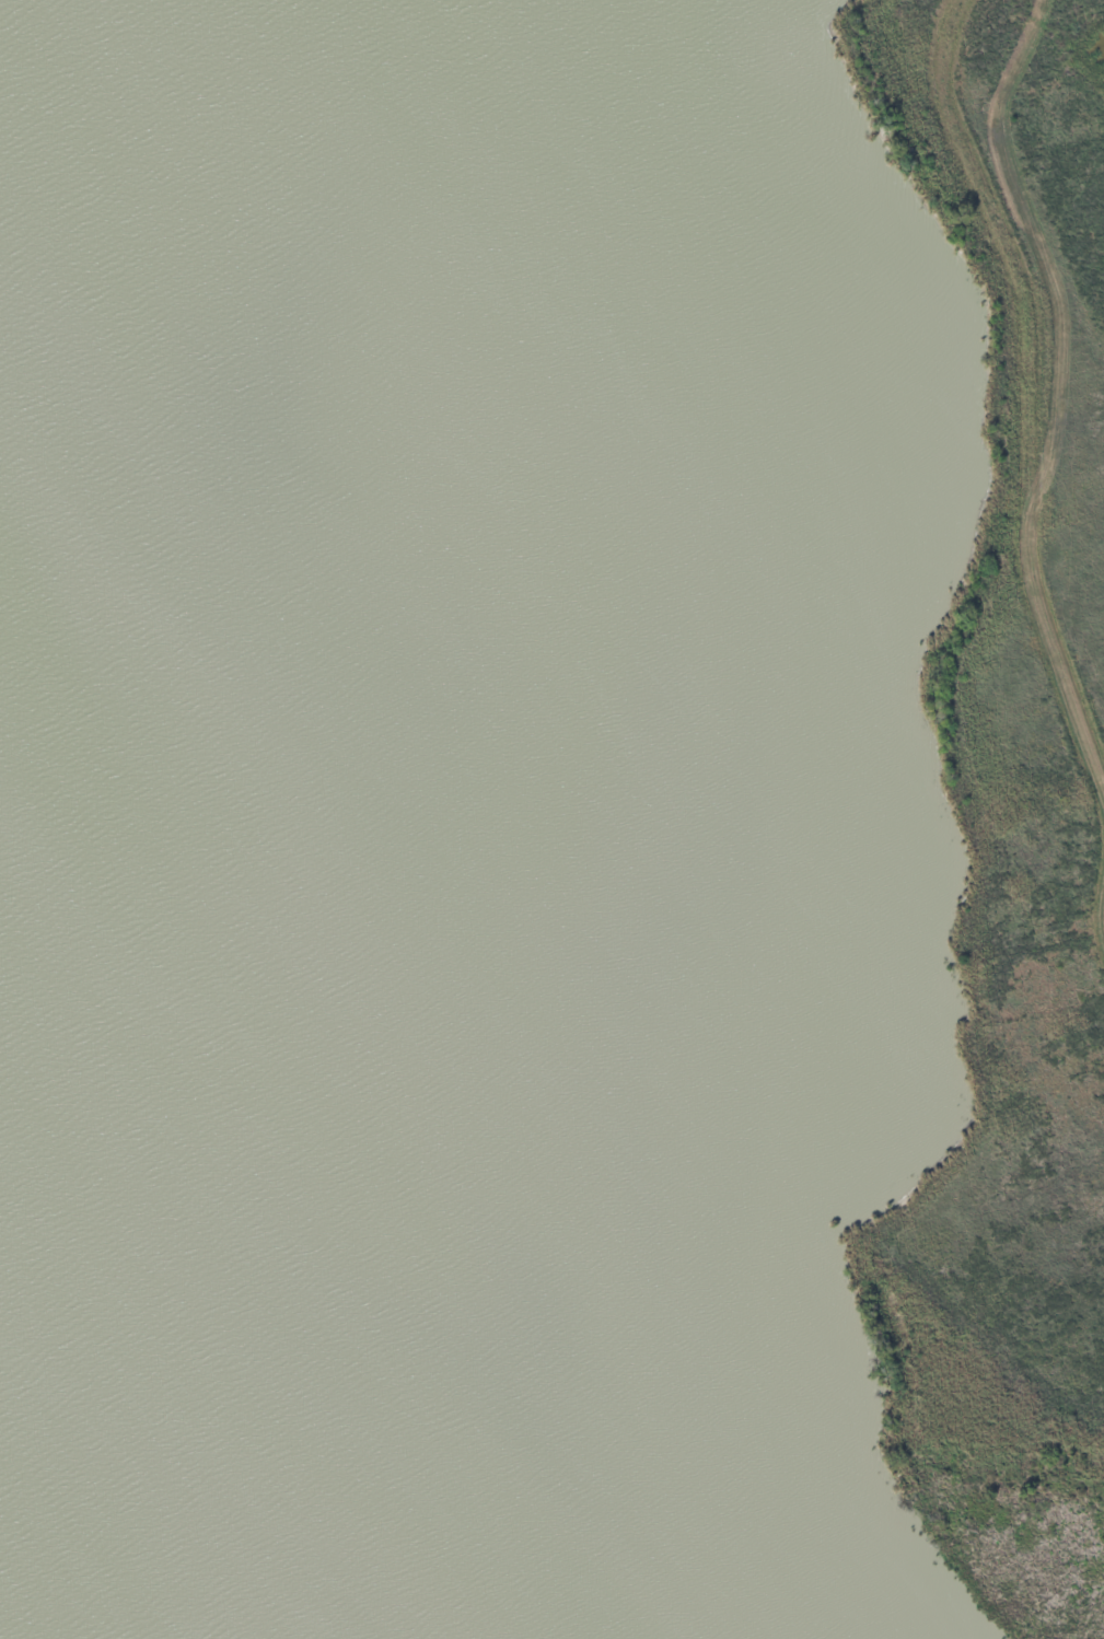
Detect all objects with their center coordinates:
road: (1032, 290)

